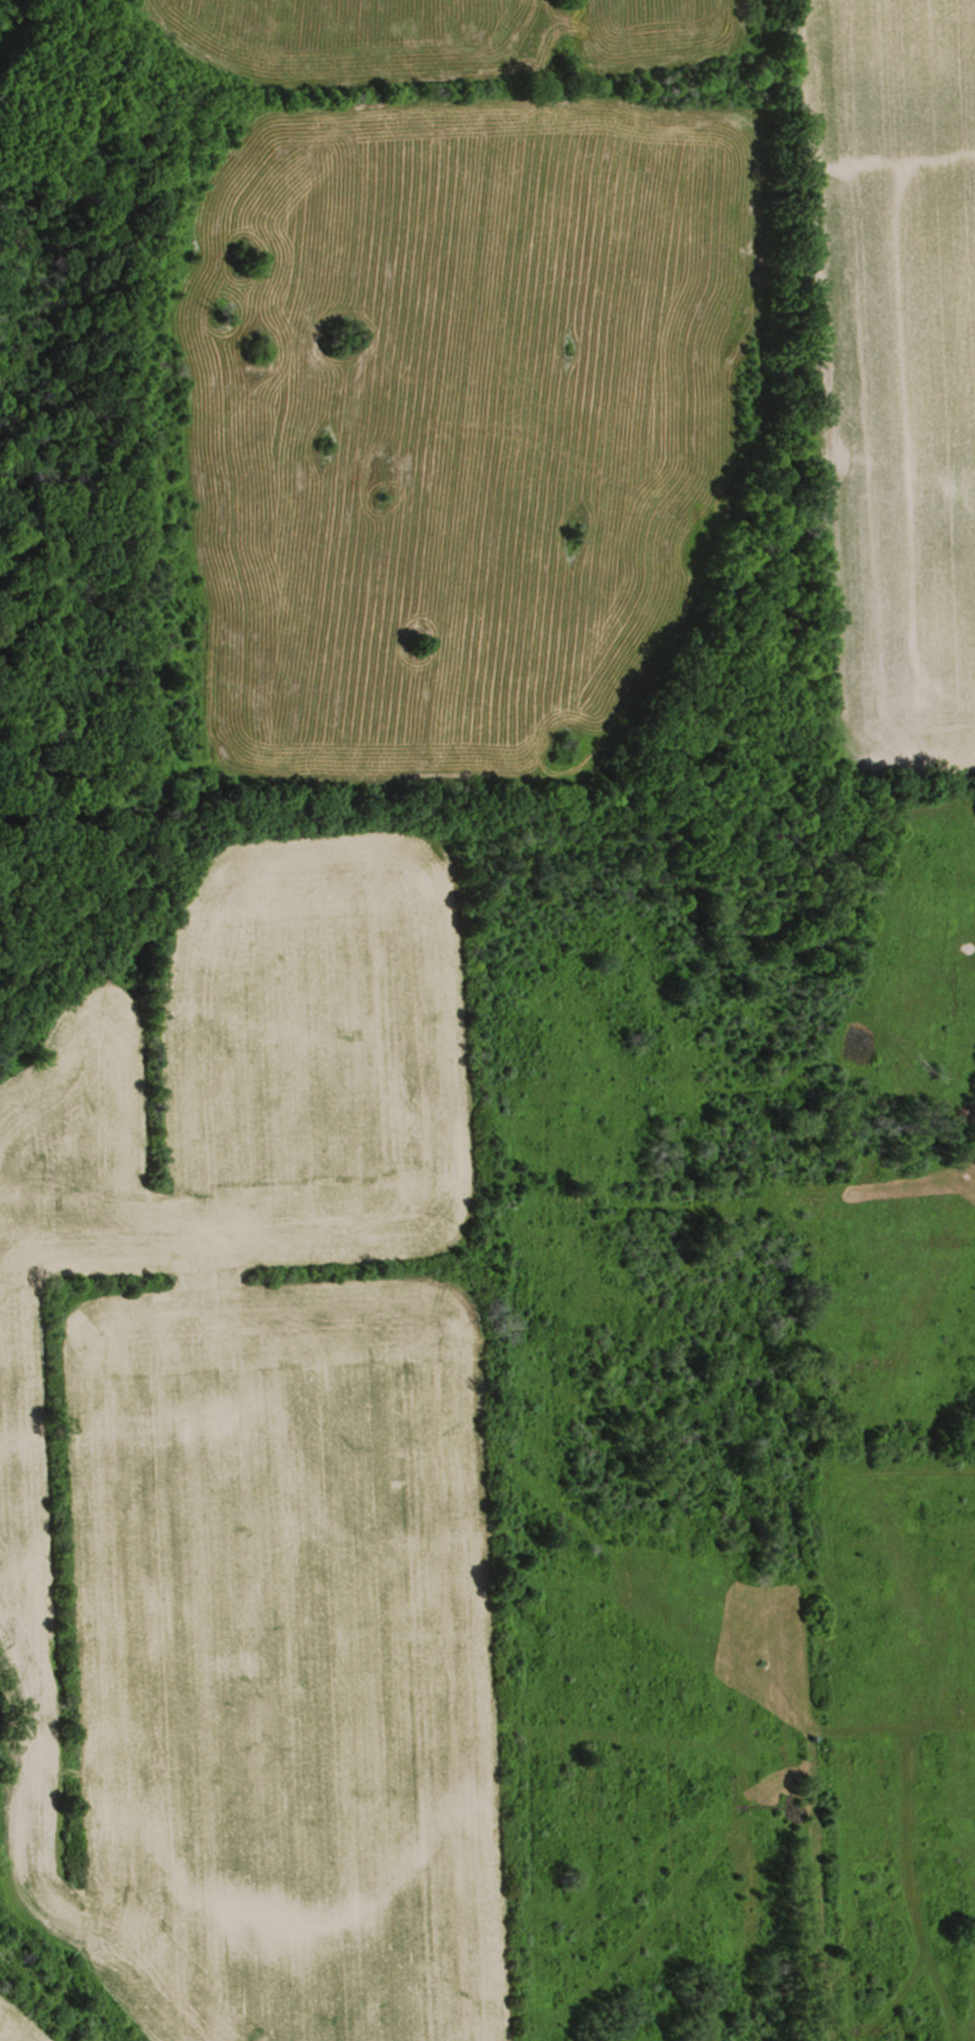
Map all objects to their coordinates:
railway: (48, 1997)

